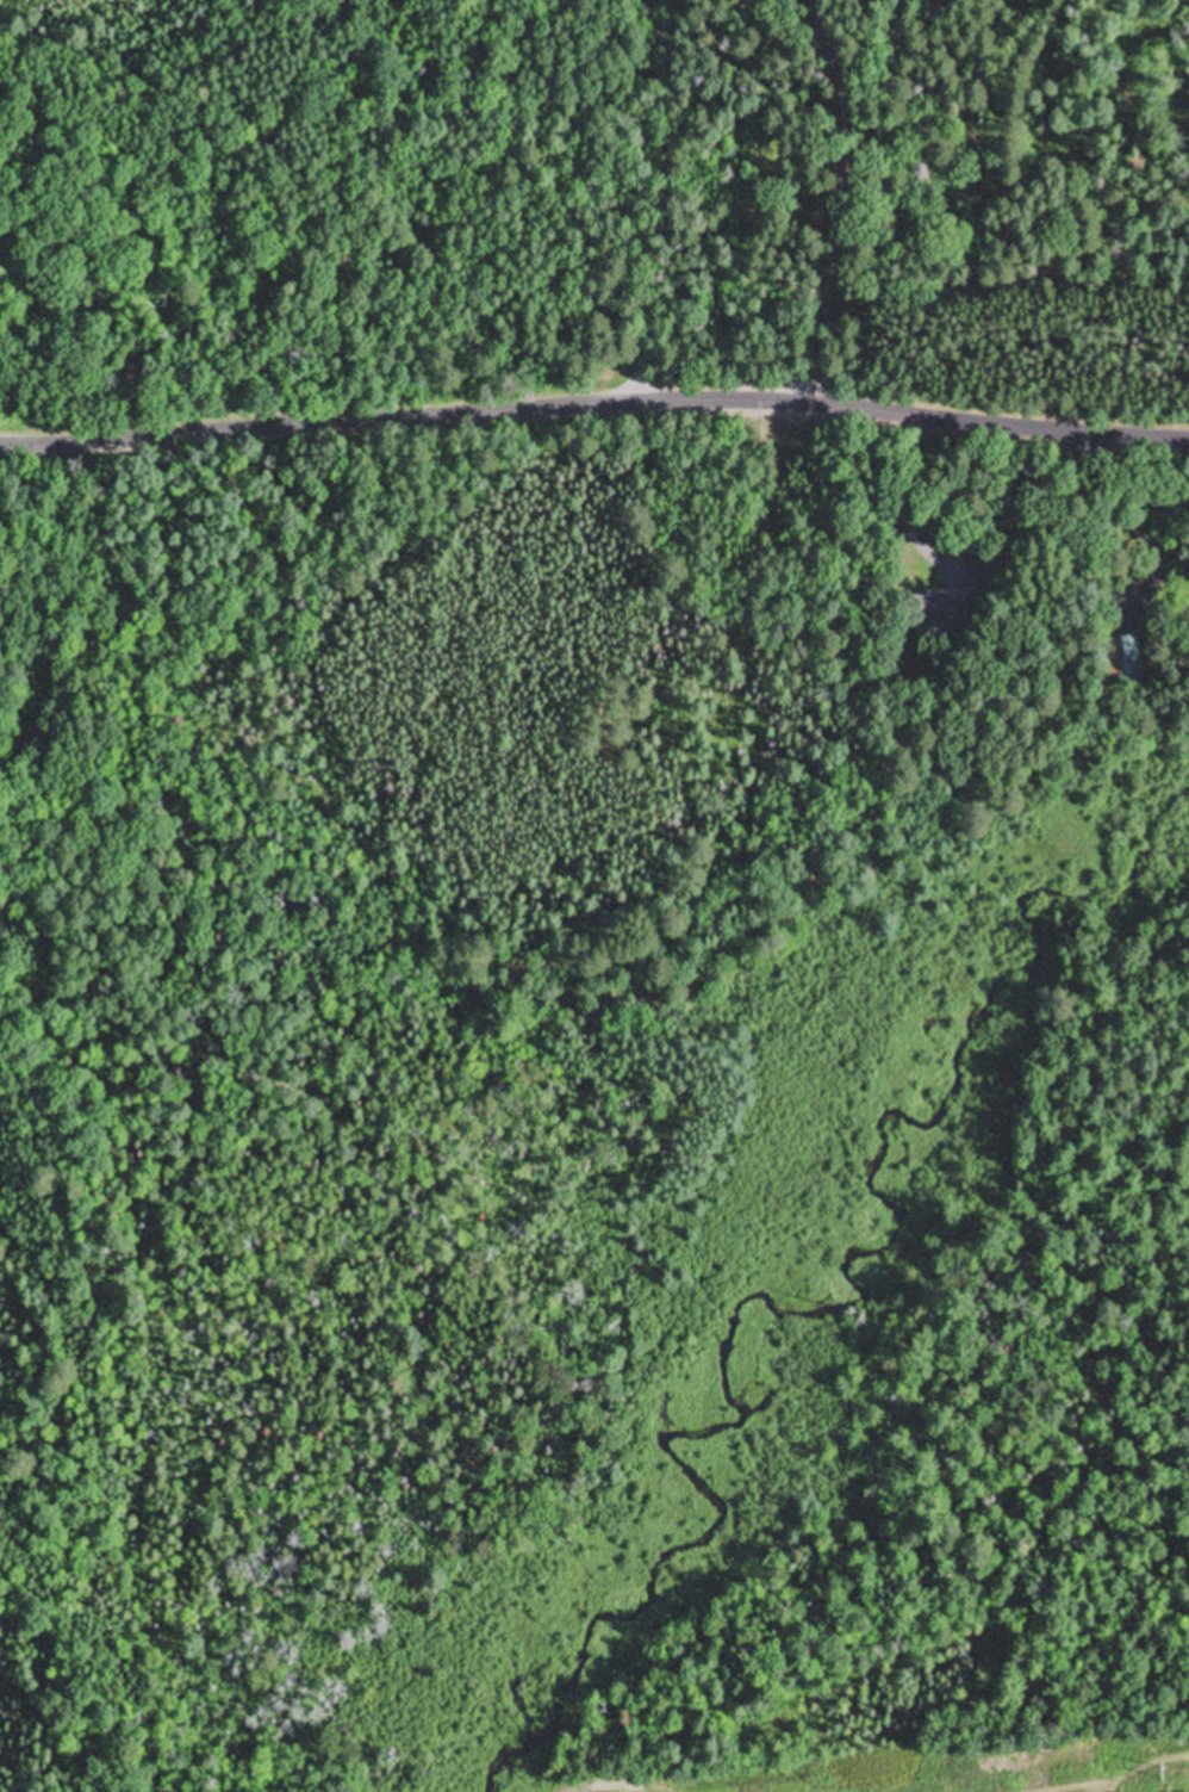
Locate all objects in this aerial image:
road: (839, 199)
road: (660, 201)
road: (594, 407)
building: (1185, 581)
building: (926, 612)
building: (1125, 661)
power tower: (1160, 1775)

